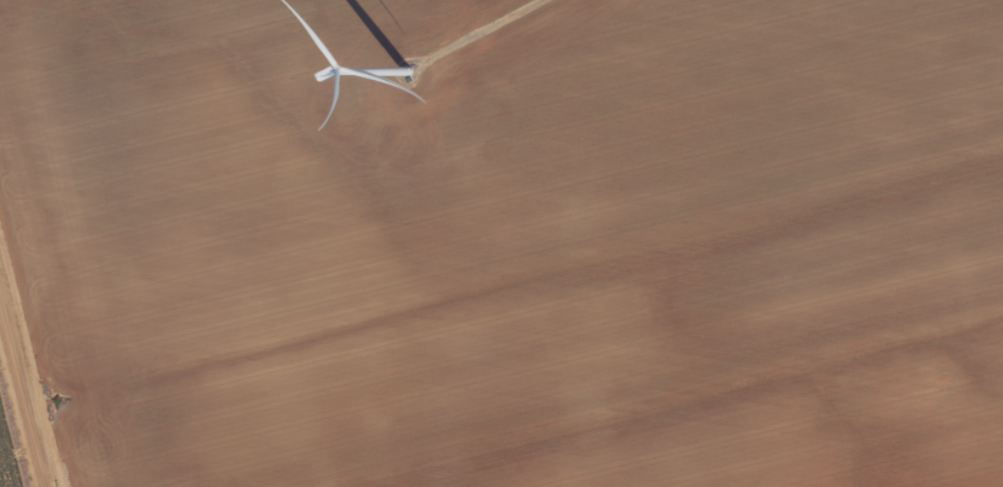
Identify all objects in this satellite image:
wind turbine: (406, 74)
road: (32, 360)

